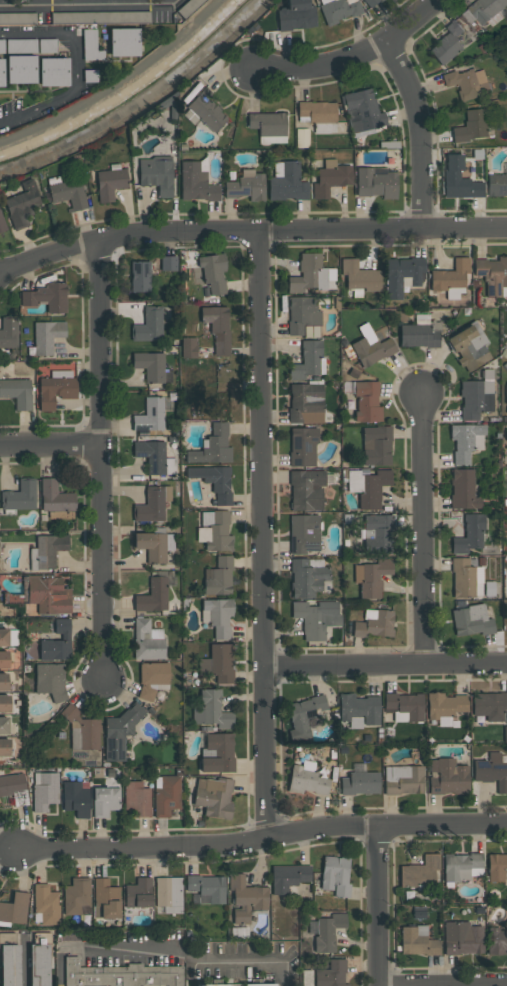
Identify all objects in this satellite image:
building: (370, 2)
road: (89, 5)
building: (338, 10)
building: (486, 11)
building: (295, 15)
building: (99, 16)
building: (17, 18)
building: (124, 41)
building: (449, 43)
building: (1, 45)
building: (48, 45)
building: (90, 45)
building: (21, 46)
road: (351, 52)
road: (74, 66)
building: (21, 68)
building: (53, 71)
building: (1, 72)
building: (467, 83)
building: (206, 110)
building: (362, 110)
building: (319, 115)
building: (471, 125)
building: (268, 126)
road: (419, 130)
building: (156, 174)
building: (331, 178)
building: (459, 179)
building: (196, 181)
building: (286, 182)
building: (376, 182)
building: (110, 183)
building: (497, 183)
building: (246, 186)
building: (68, 193)
building: (22, 205)
building: (1, 224)
road: (250, 228)
building: (168, 263)
building: (210, 273)
building: (308, 274)
building: (492, 274)
building: (403, 275)
building: (140, 276)
building: (360, 277)
building: (451, 278)
building: (47, 297)
building: (303, 316)
building: (149, 325)
building: (217, 327)
building: (420, 332)
building: (8, 333)
building: (46, 336)
building: (189, 347)
building: (469, 347)
building: (372, 351)
building: (308, 360)
building: (150, 365)
building: (55, 388)
building: (17, 392)
building: (505, 397)
building: (475, 398)
building: (367, 402)
building: (306, 403)
building: (152, 414)
building: (466, 441)
road: (50, 442)
building: (376, 445)
building: (212, 446)
building: (302, 446)
building: (154, 457)
road: (100, 459)
building: (214, 481)
building: (463, 489)
building: (306, 490)
building: (19, 496)
building: (55, 496)
building: (152, 504)
building: (61, 514)
road: (422, 529)
building: (214, 530)
road: (260, 532)
building: (304, 533)
building: (378, 534)
building: (469, 534)
building: (154, 545)
building: (47, 551)
building: (218, 577)
building: (307, 577)
building: (372, 577)
building: (466, 578)
building: (154, 594)
building: (48, 595)
building: (217, 616)
building: (315, 617)
building: (471, 620)
building: (374, 623)
building: (4, 637)
building: (147, 640)
building: (57, 643)
building: (4, 660)
building: (218, 663)
road: (383, 663)
building: (152, 678)
building: (50, 680)
building: (3, 681)
building: (4, 703)
building: (489, 705)
building: (404, 707)
building: (444, 707)
building: (211, 710)
building: (359, 710)
building: (306, 712)
building: (3, 725)
building: (82, 731)
building: (117, 734)
building: (4, 747)
building: (218, 753)
building: (491, 771)
building: (447, 777)
building: (306, 779)
building: (403, 780)
building: (360, 781)
building: (14, 788)
building: (44, 790)
building: (166, 795)
building: (214, 797)
building: (76, 798)
building: (137, 798)
building: (105, 801)
road: (261, 836)
building: (462, 866)
building: (497, 867)
building: (421, 872)
building: (335, 875)
building: (288, 877)
building: (207, 888)
building: (138, 893)
building: (169, 894)
building: (76, 896)
building: (246, 898)
building: (105, 899)
building: (46, 904)
road: (379, 905)
building: (14, 908)
building: (328, 932)
building: (463, 938)
building: (417, 941)
building: (497, 941)
road: (168, 951)
road: (25, 963)
building: (9, 965)
building: (38, 965)
building: (120, 974)
building: (331, 974)
building: (259, 984)
road: (443, 984)
building: (212, 985)

